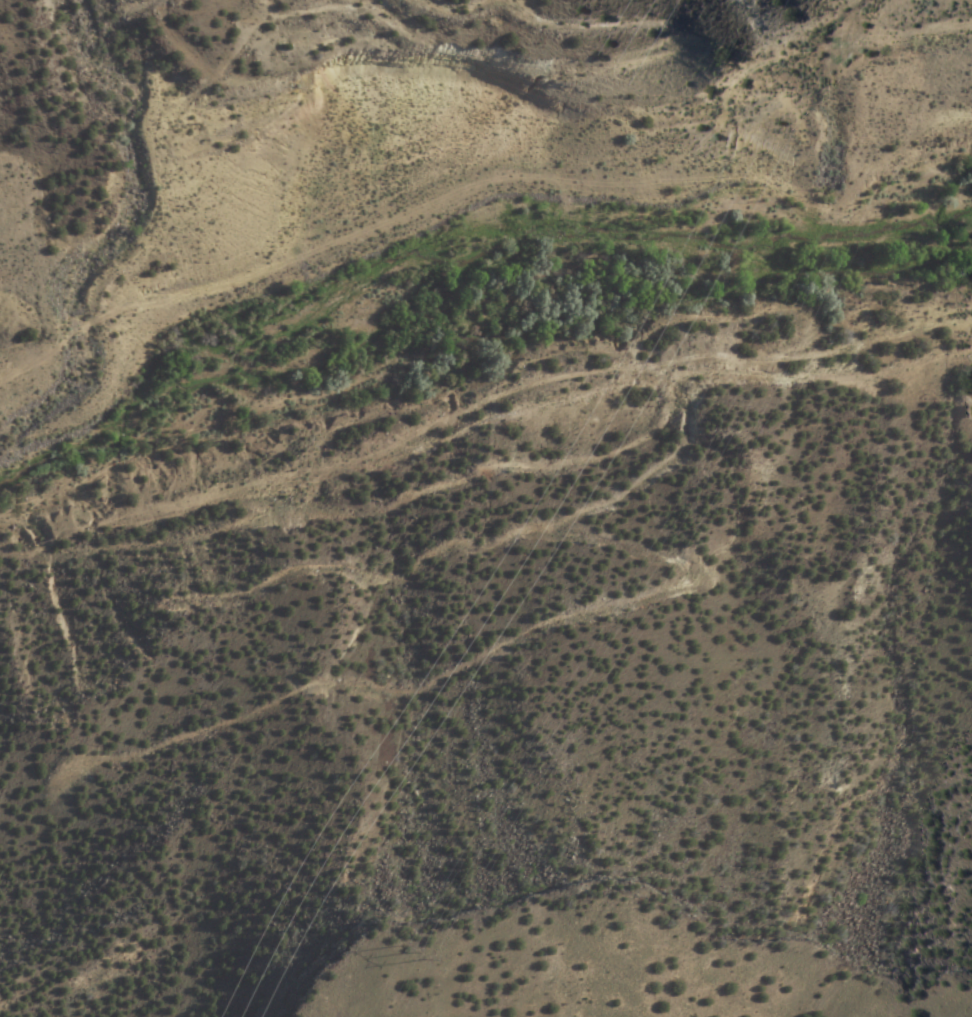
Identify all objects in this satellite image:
road: (485, 178)
river: (475, 315)
road: (492, 480)
road: (633, 613)

